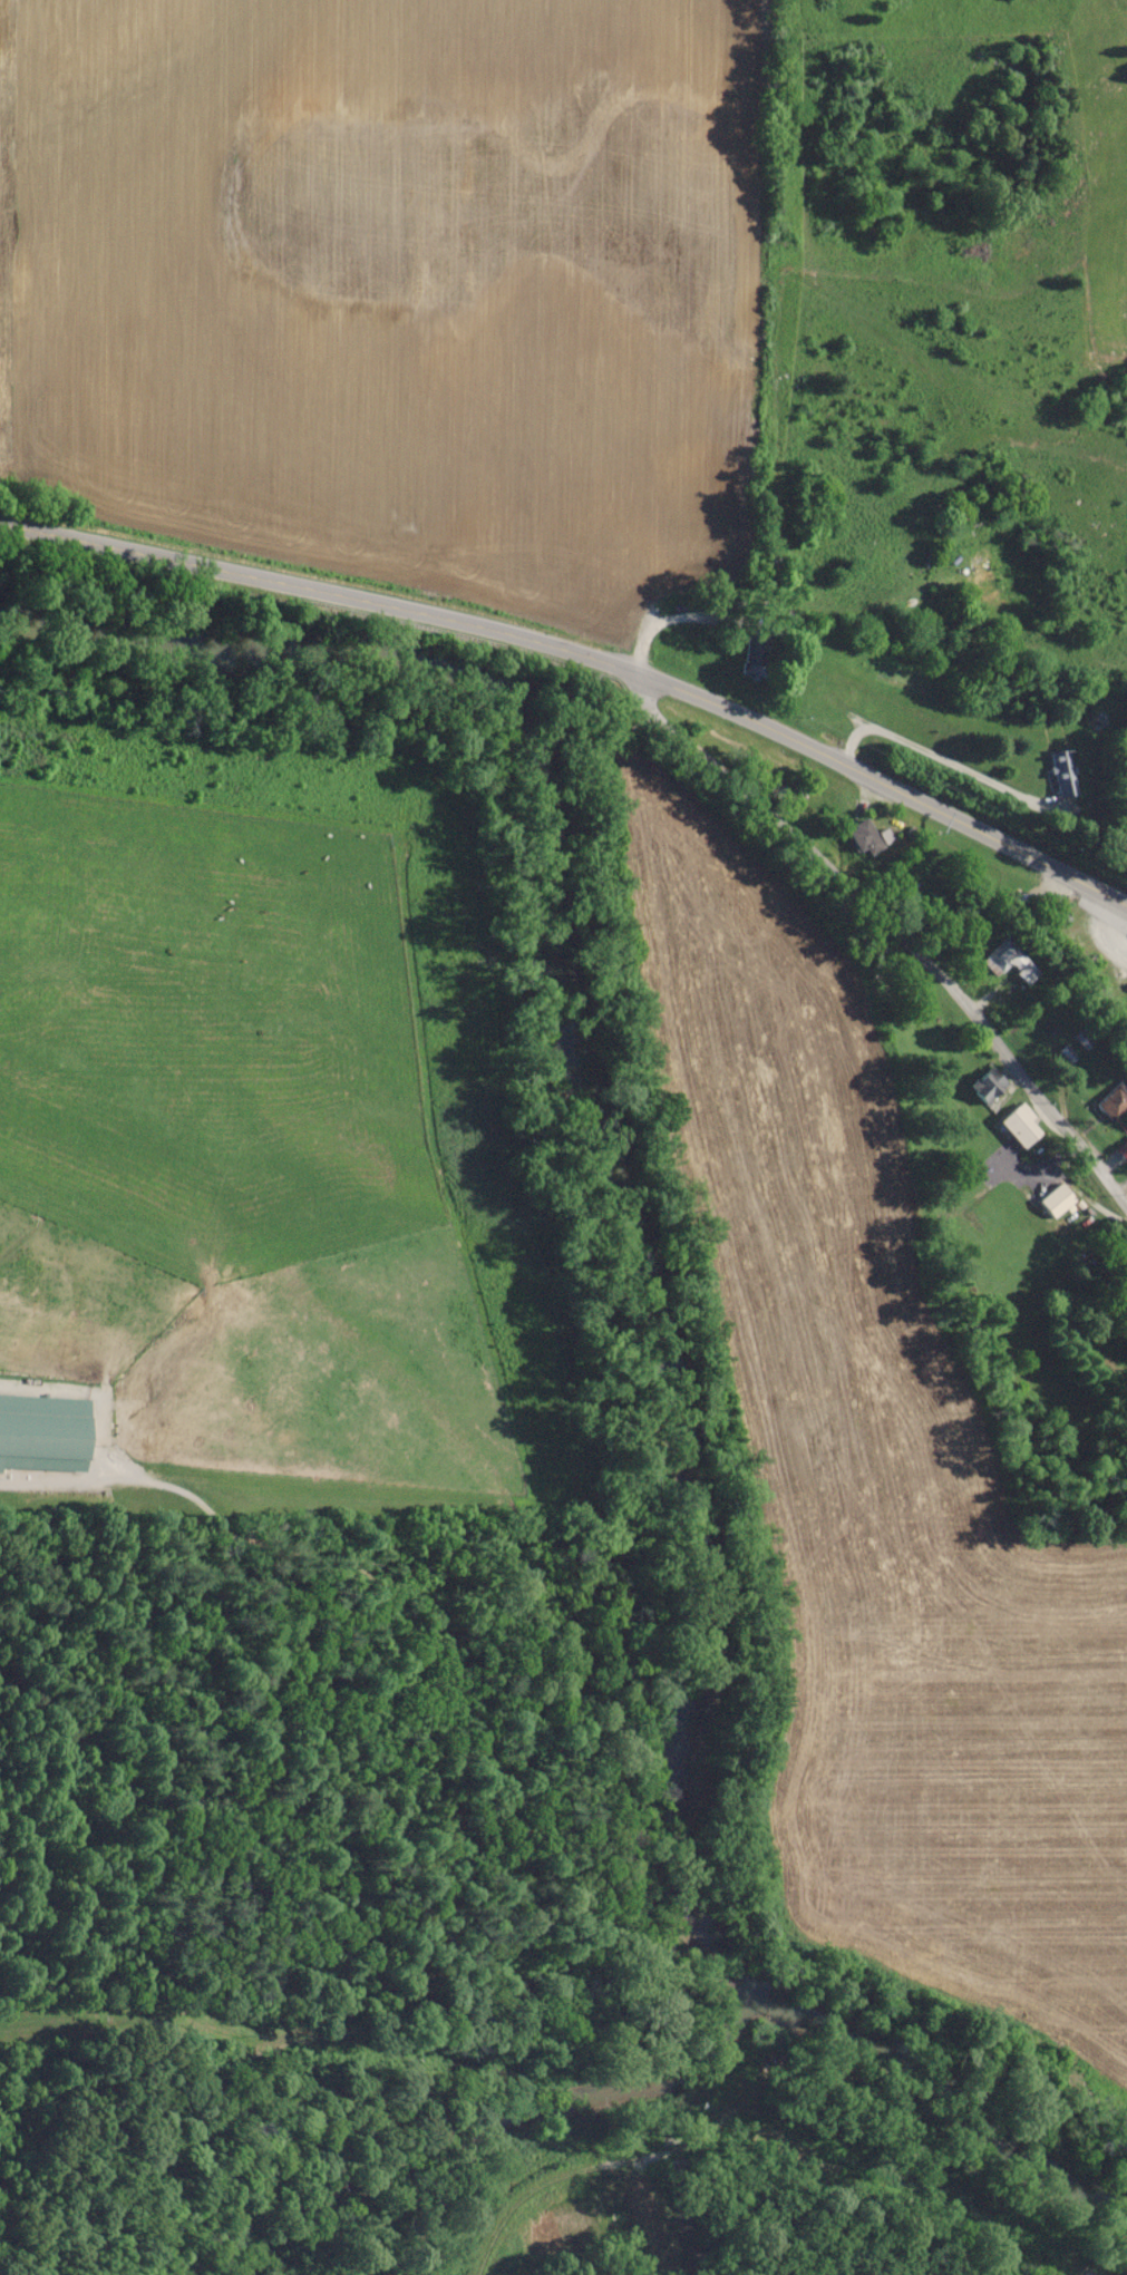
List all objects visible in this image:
road: (661, 622)
road: (582, 659)
building: (756, 659)
road: (937, 760)
building: (1061, 774)
building: (864, 837)
road: (893, 927)
building: (1003, 966)
building: (987, 1087)
building: (1114, 1104)
building: (1019, 1126)
building: (1123, 1153)
road: (1121, 1185)
building: (1056, 1203)
building: (1126, 1281)
river: (670, 1316)
building: (45, 1432)
river: (543, 2116)

